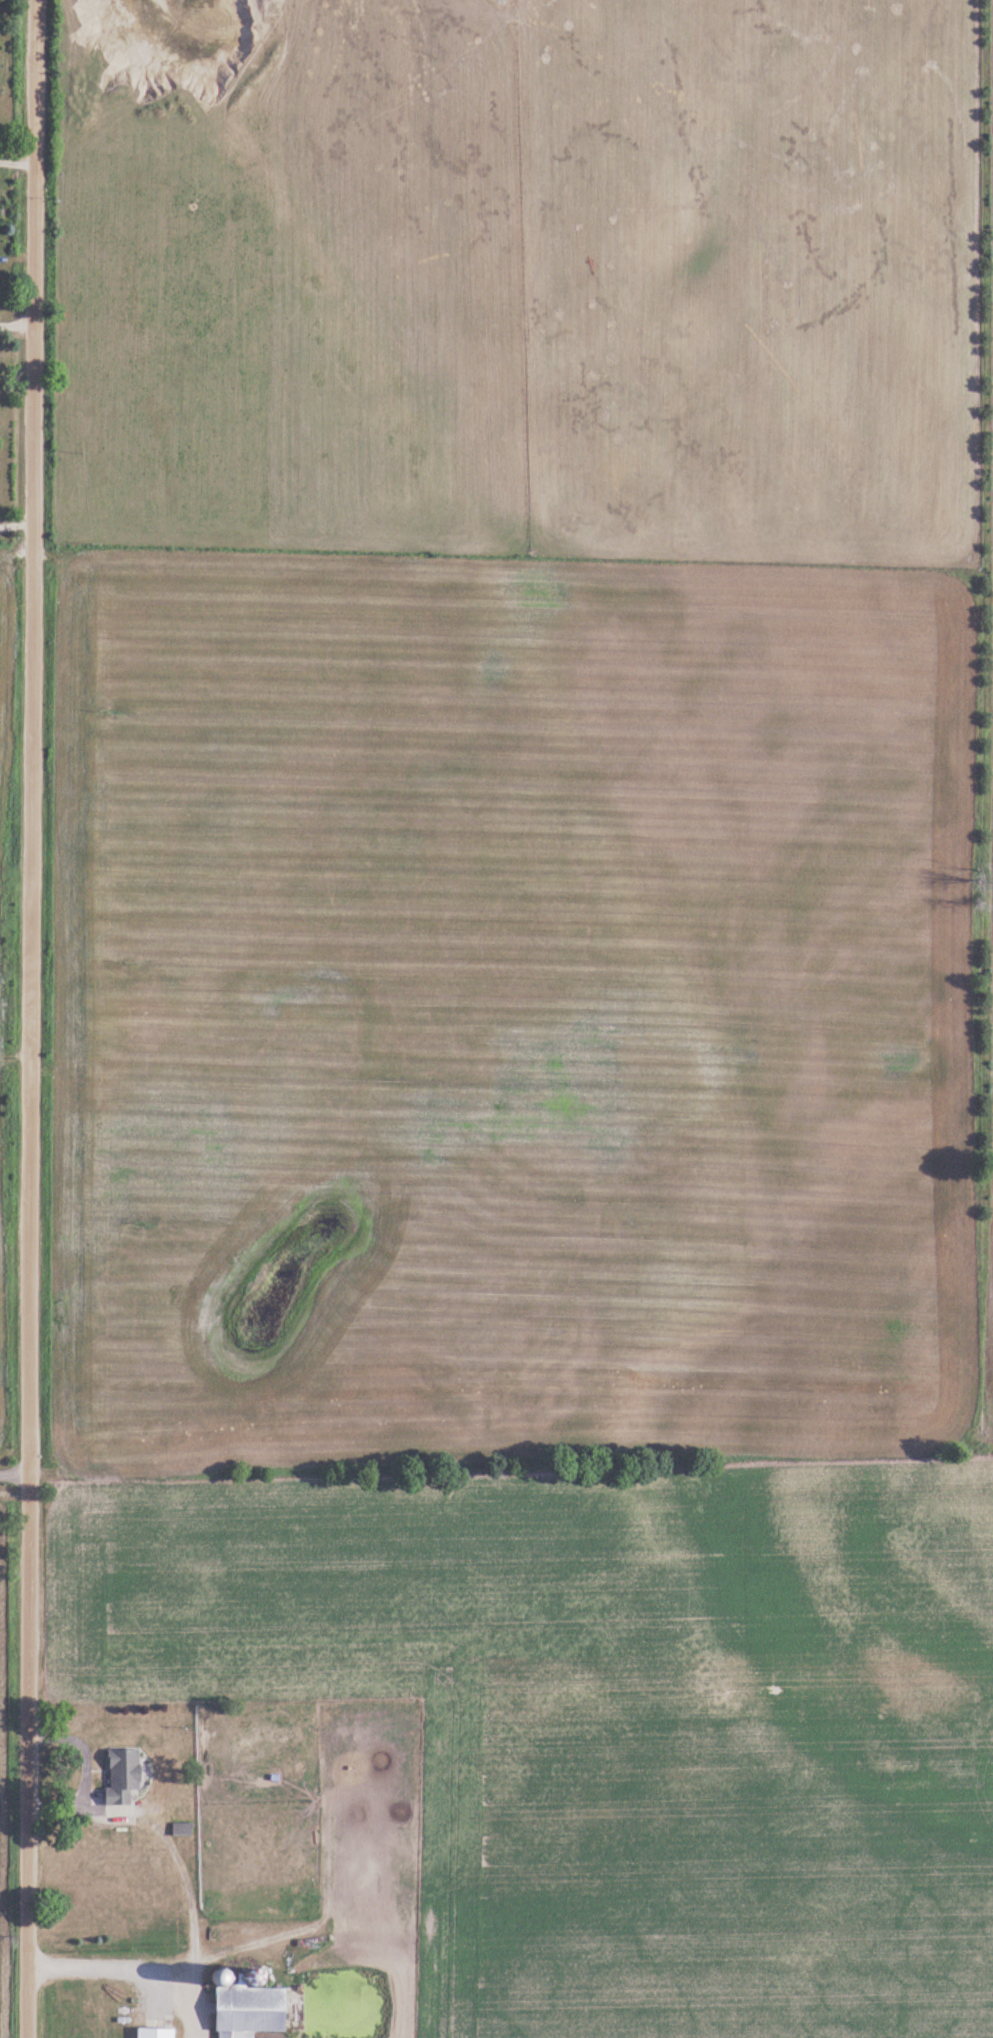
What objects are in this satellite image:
road: (34, 1018)
building: (121, 1776)
building: (182, 1829)
building: (248, 2011)
building: (155, 2032)

